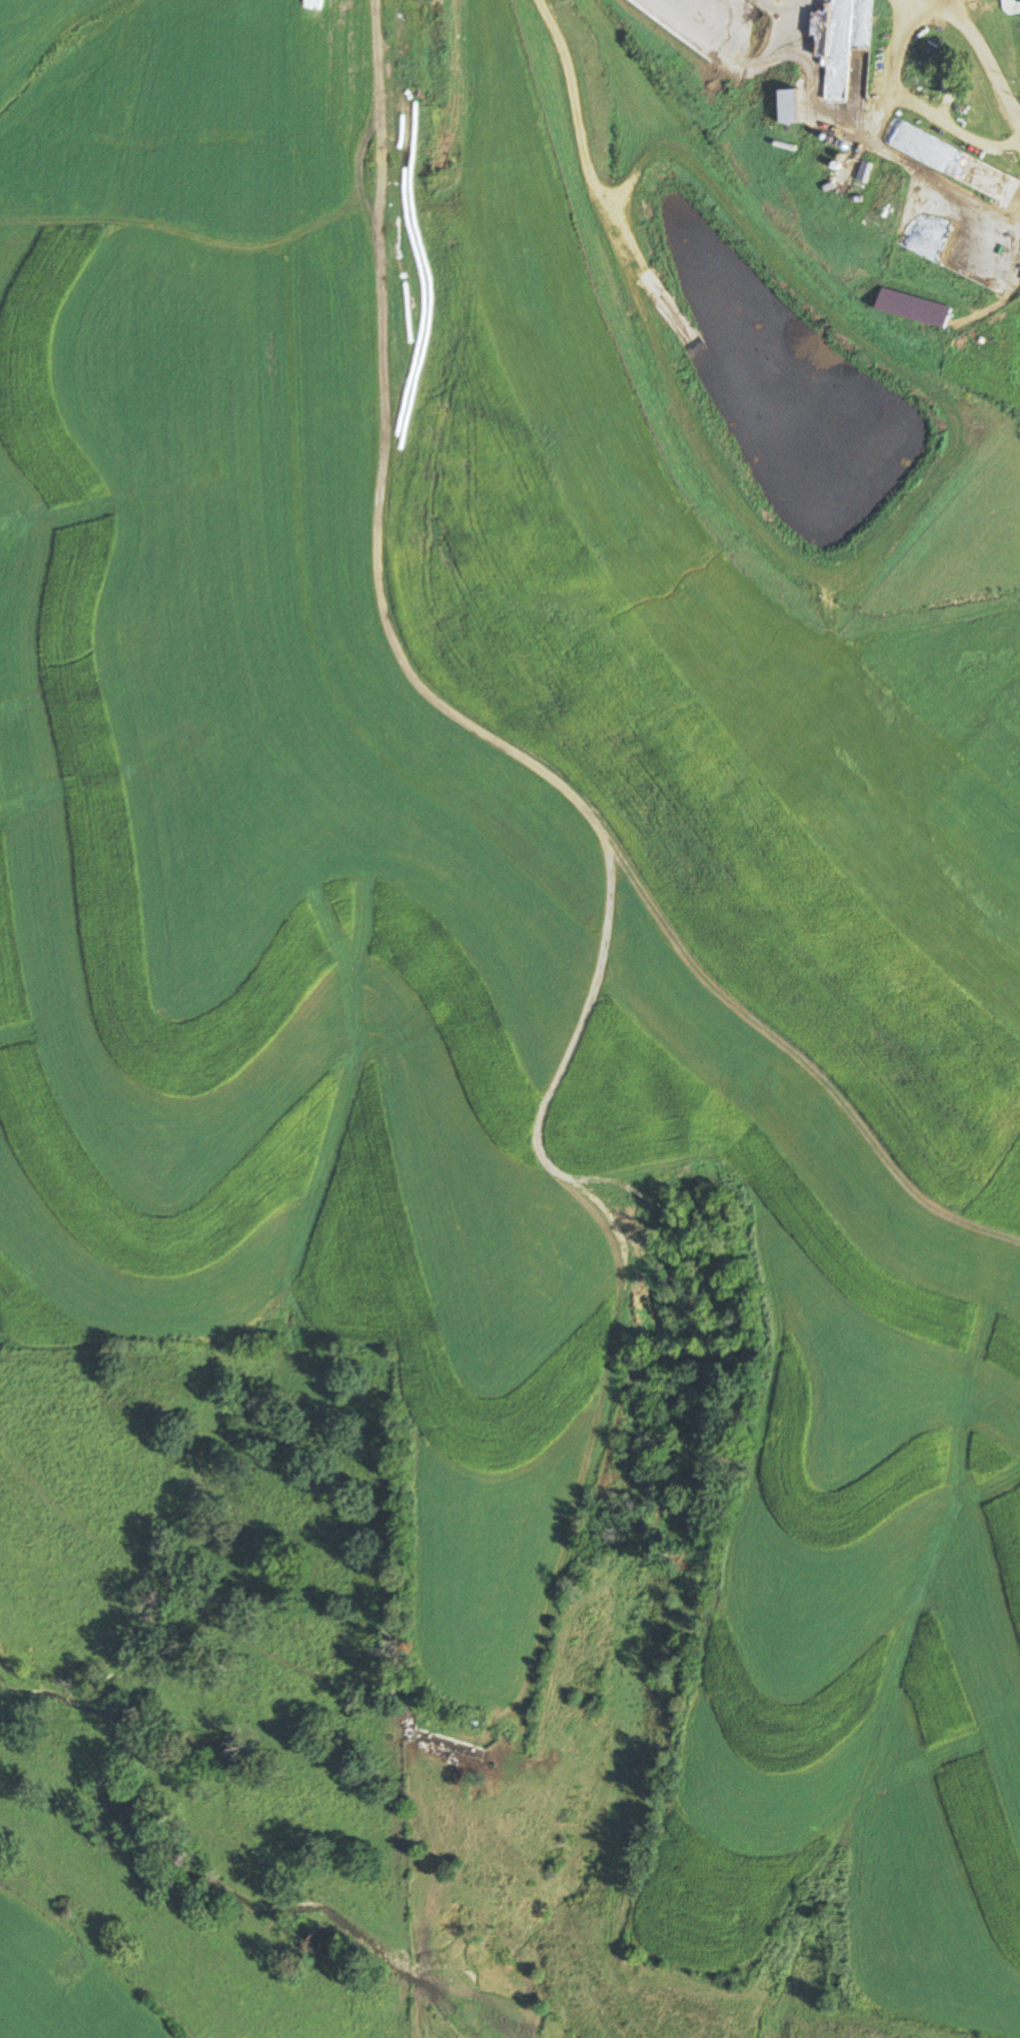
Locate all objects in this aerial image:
building: (1010, 7)
building: (860, 12)
road: (972, 43)
building: (949, 75)
building: (853, 184)

